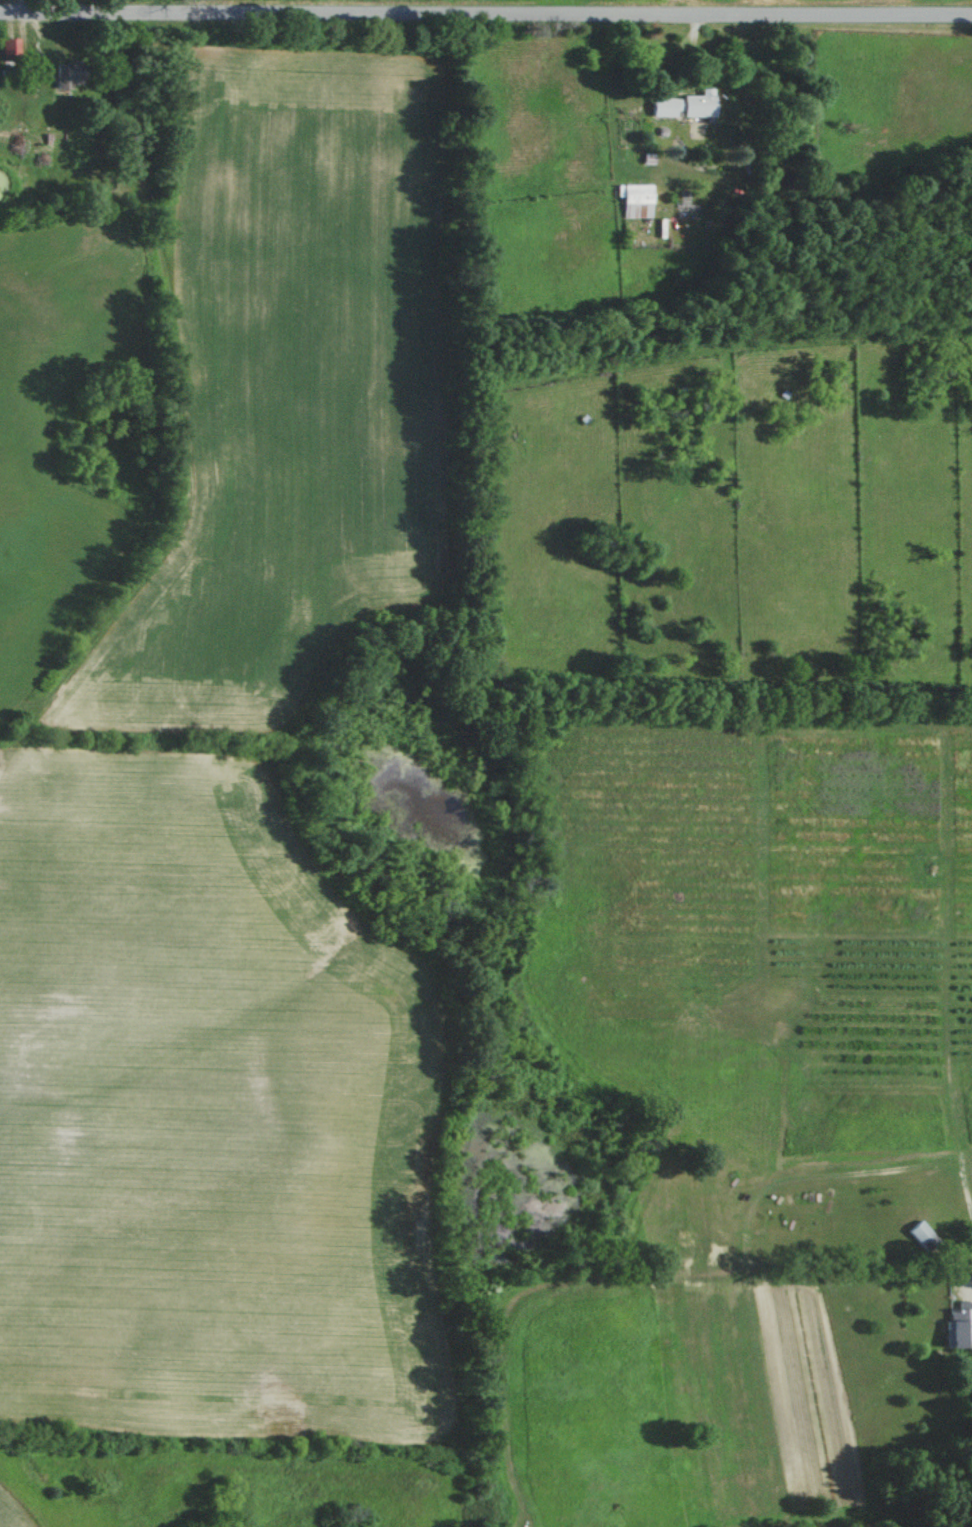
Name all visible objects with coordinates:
road: (485, 14)
building: (10, 47)
building: (682, 104)
building: (633, 200)
building: (913, 1234)
building: (951, 1325)

